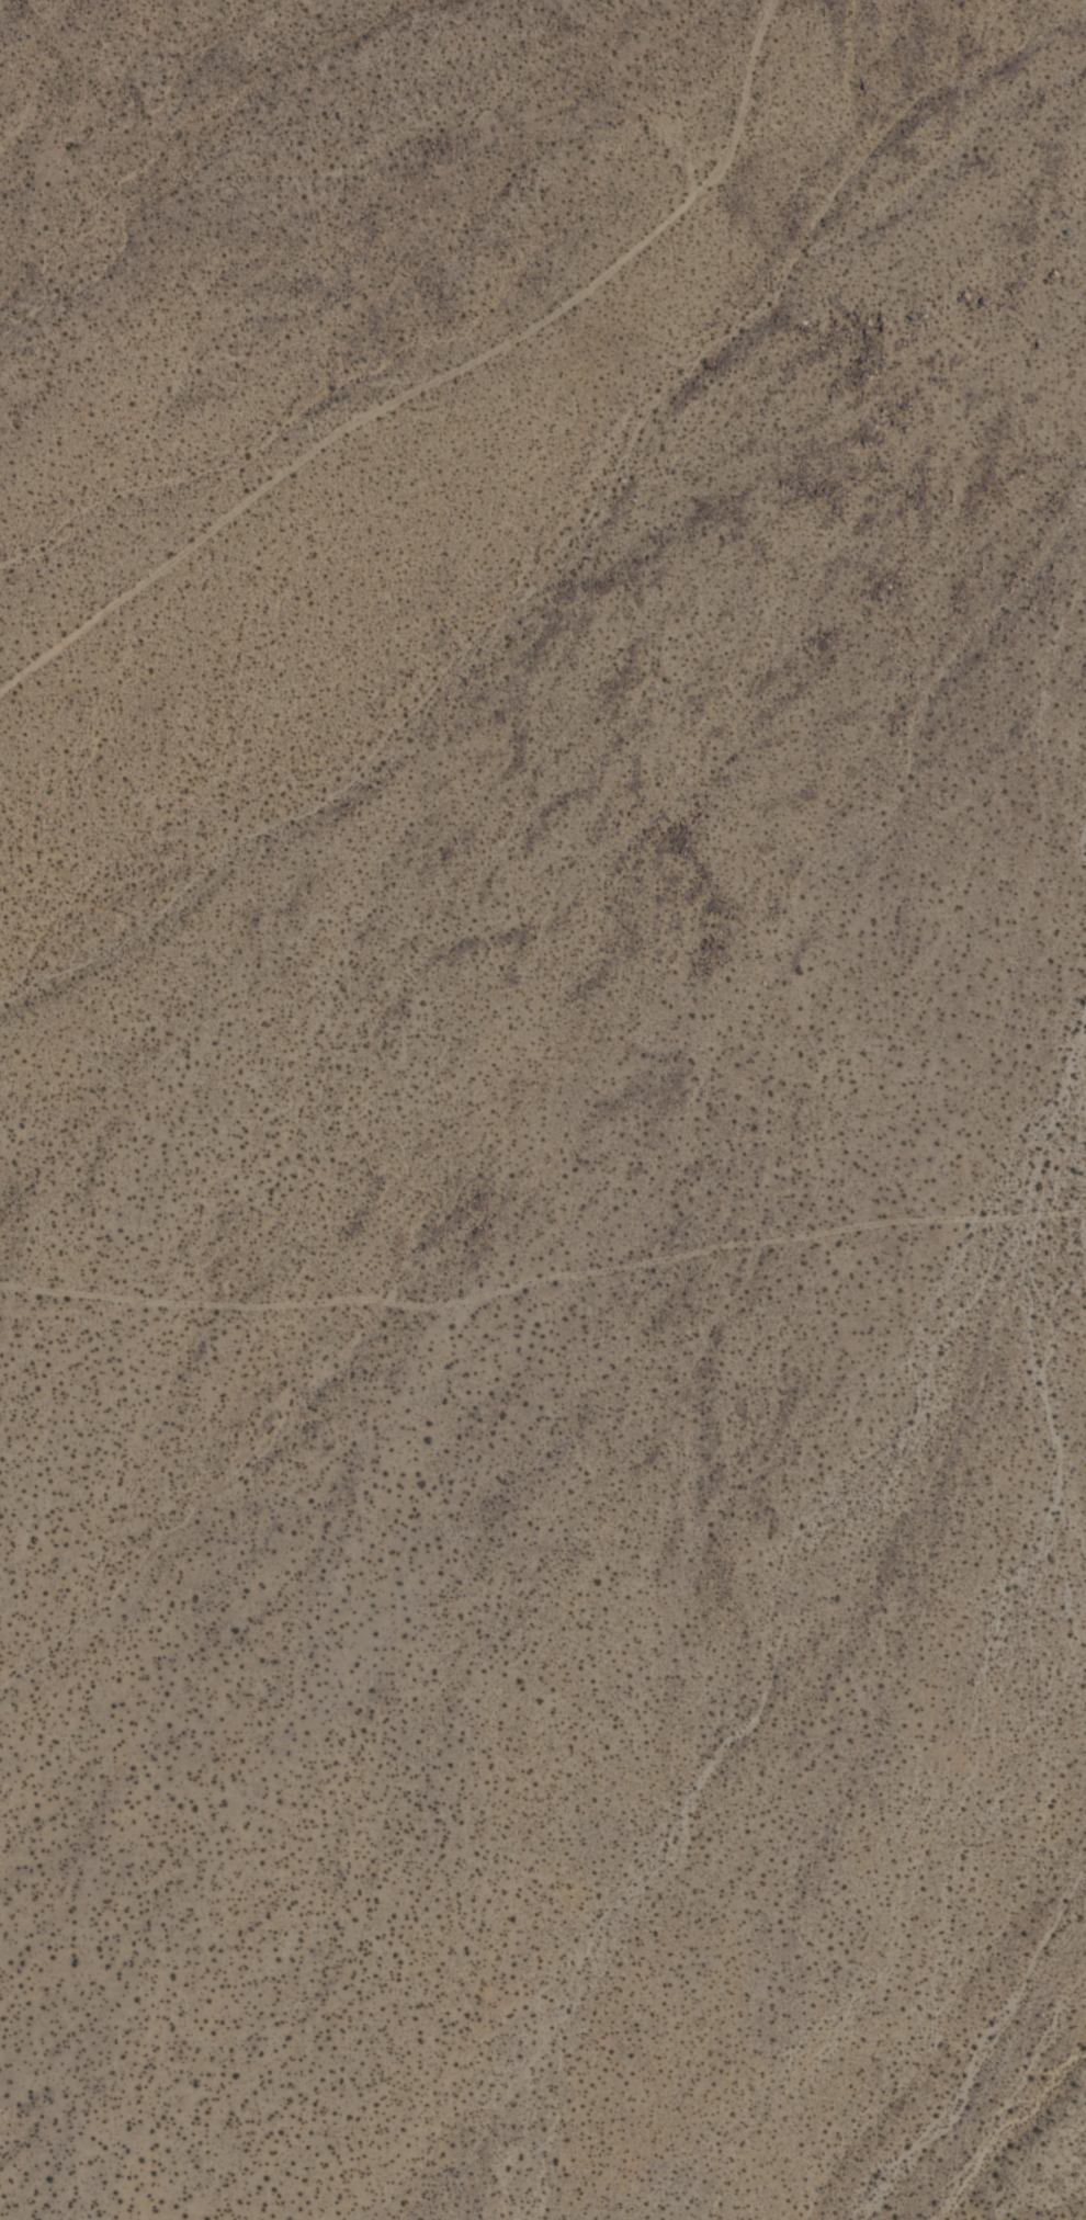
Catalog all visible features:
road: (431, 378)
road: (543, 1277)

